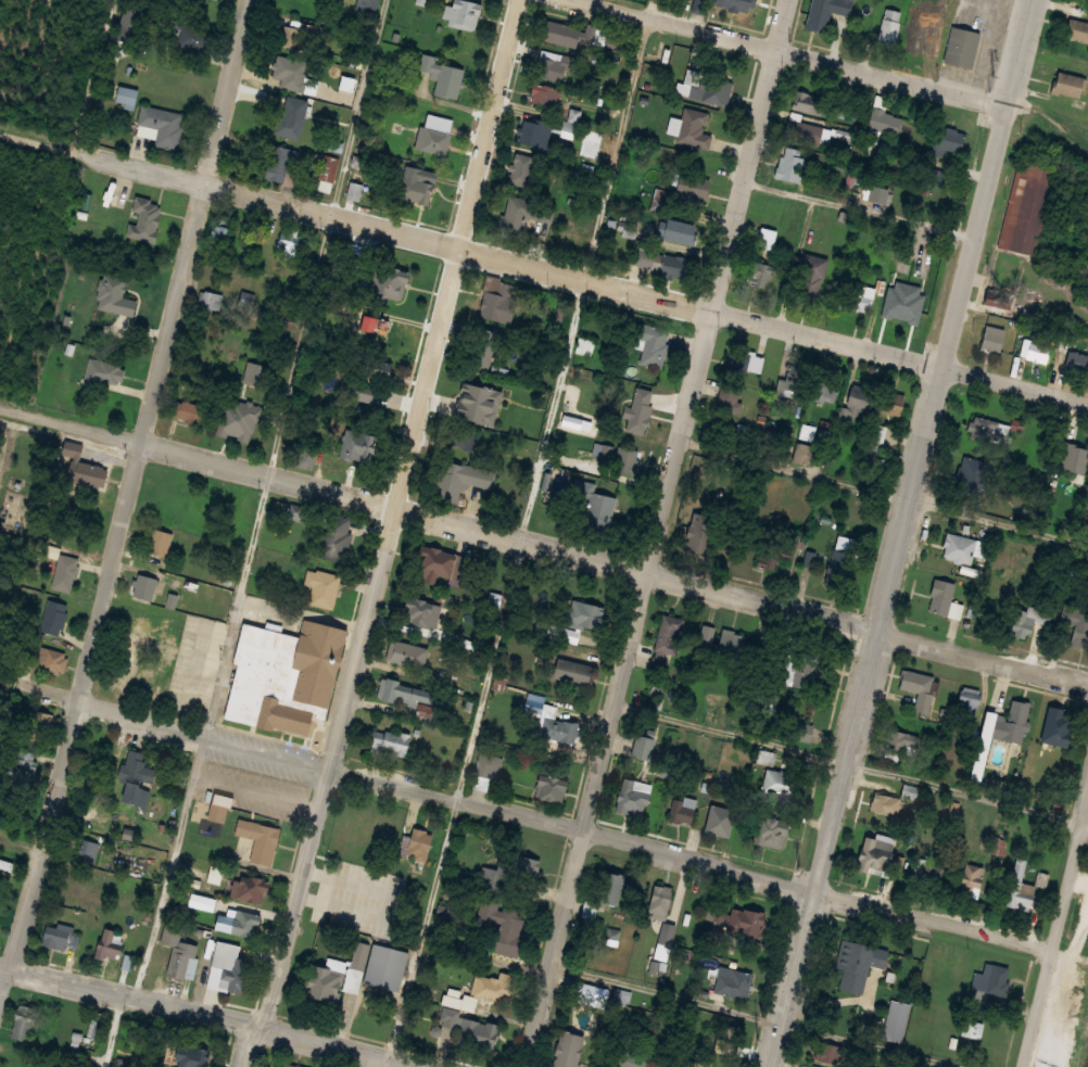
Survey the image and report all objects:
building: (737, 3)
building: (368, 5)
building: (701, 5)
road: (979, 8)
building: (463, 12)
building: (825, 12)
building: (947, 13)
building: (327, 20)
building: (136, 23)
building: (889, 25)
building: (1077, 28)
building: (578, 34)
building: (926, 35)
building: (303, 36)
building: (192, 37)
building: (657, 46)
parking lot: (991, 46)
building: (963, 48)
road: (989, 51)
road: (794, 52)
power tower: (1001, 59)
building: (553, 64)
building: (291, 72)
road: (96, 75)
building: (442, 76)
building: (1071, 84)
building: (711, 87)
building: (543, 93)
building: (125, 96)
building: (812, 103)
building: (848, 111)
building: (883, 114)
building: (291, 116)
building: (570, 122)
building: (161, 125)
building: (694, 129)
building: (535, 131)
building: (805, 132)
building: (826, 136)
building: (432, 139)
building: (951, 139)
road: (38, 140)
building: (283, 164)
building: (793, 165)
road: (140, 168)
building: (519, 168)
building: (327, 173)
building: (853, 176)
building: (937, 176)
building: (692, 187)
building: (354, 190)
building: (414, 190)
building: (877, 194)
building: (1029, 205)
road: (862, 211)
building: (524, 212)
building: (143, 219)
building: (630, 230)
building: (679, 230)
building: (265, 234)
building: (218, 239)
building: (768, 239)
building: (288, 240)
power tower: (956, 243)
building: (673, 264)
building: (762, 272)
building: (813, 275)
building: (898, 278)
building: (381, 283)
road: (646, 292)
building: (114, 294)
building: (212, 300)
building: (496, 300)
building: (859, 300)
building: (906, 309)
building: (995, 336)
building: (654, 344)
building: (584, 345)
building: (485, 347)
building: (1039, 351)
building: (1077, 358)
building: (747, 366)
building: (101, 371)
building: (358, 371)
building: (256, 373)
building: (797, 374)
building: (827, 385)
building: (470, 394)
building: (861, 396)
building: (732, 397)
building: (890, 402)
building: (187, 411)
building: (634, 411)
building: (240, 423)
building: (721, 428)
building: (992, 429)
building: (807, 431)
building: (876, 435)
building: (459, 436)
building: (356, 446)
building: (302, 455)
power tower: (901, 455)
building: (1074, 457)
building: (624, 459)
building: (81, 467)
building: (458, 480)
building: (972, 487)
road: (885, 493)
road: (130, 498)
building: (828, 500)
building: (205, 504)
building: (595, 507)
building: (238, 509)
building: (293, 510)
road: (523, 528)
road: (659, 533)
road: (906, 533)
building: (699, 534)
road: (389, 535)
road: (255, 537)
building: (333, 537)
building: (159, 543)
road: (544, 544)
building: (958, 547)
building: (981, 548)
building: (780, 554)
building: (809, 558)
building: (433, 561)
building: (838, 569)
building: (64, 572)
building: (320, 585)
building: (143, 586)
building: (941, 598)
building: (954, 610)
building: (420, 611)
building: (581, 615)
building: (52, 617)
building: (135, 618)
building: (1028, 618)
building: (1075, 619)
building: (668, 632)
building: (730, 644)
building: (136, 649)
power tower: (853, 649)
building: (406, 653)
building: (46, 660)
building: (570, 671)
building: (807, 671)
building: (281, 676)
building: (124, 677)
building: (918, 689)
building: (397, 690)
building: (970, 699)
building: (1011, 721)
building: (35, 725)
building: (555, 725)
building: (1053, 726)
building: (800, 731)
building: (389, 744)
building: (899, 744)
building: (640, 747)
road: (852, 765)
building: (18, 767)
building: (136, 767)
building: (484, 770)
building: (779, 783)
building: (547, 788)
building: (909, 790)
building: (135, 795)
building: (630, 796)
building: (884, 804)
building: (218, 808)
building: (681, 810)
road: (536, 817)
building: (717, 821)
building: (769, 830)
building: (258, 839)
building: (417, 843)
building: (402, 846)
building: (997, 846)
building: (89, 851)
building: (870, 854)
building: (5, 864)
power tower: (800, 866)
building: (506, 874)
building: (970, 878)
building: (1042, 878)
building: (1019, 884)
building: (252, 888)
building: (608, 888)
building: (347, 892)
building: (661, 899)
building: (742, 919)
building: (242, 922)
building: (506, 932)
building: (669, 936)
building: (60, 937)
building: (106, 943)
road: (1057, 943)
building: (178, 953)
building: (358, 955)
building: (859, 962)
building: (334, 963)
building: (382, 967)
building: (230, 973)
building: (732, 980)
building: (991, 980)
building: (322, 986)
building: (490, 987)
building: (619, 995)
road: (217, 1017)
road: (759, 1017)
building: (22, 1021)
building: (93, 1025)
building: (708, 1028)
building: (973, 1028)
building: (476, 1034)
power tower: (757, 1039)
building: (722, 1047)
building: (565, 1051)
building: (828, 1053)
building: (190, 1056)
road: (374, 1058)
building: (625, 1058)
building: (281, 1065)
building: (657, 1065)
building: (696, 1065)
building: (814, 1066)

